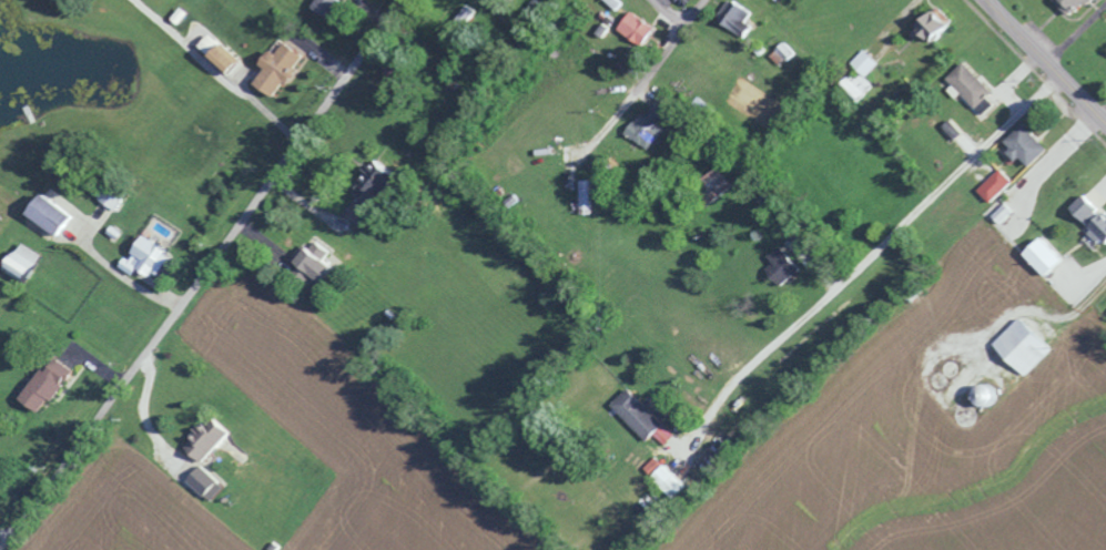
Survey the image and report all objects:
building: (1068, 4)
building: (332, 7)
road: (667, 12)
road: (693, 12)
building: (741, 18)
building: (459, 24)
building: (929, 24)
building: (641, 29)
building: (231, 60)
building: (862, 63)
road: (1044, 63)
building: (284, 68)
road: (652, 68)
road: (212, 75)
building: (966, 84)
building: (668, 106)
building: (647, 130)
building: (1021, 145)
building: (379, 182)
building: (992, 185)
building: (119, 196)
building: (1000, 213)
building: (59, 214)
building: (1092, 221)
road: (871, 256)
building: (1038, 256)
building: (154, 257)
building: (324, 262)
building: (31, 263)
building: (788, 265)
road: (203, 274)
building: (1018, 347)
building: (52, 384)
building: (642, 414)
building: (214, 439)
building: (670, 477)
building: (213, 482)

